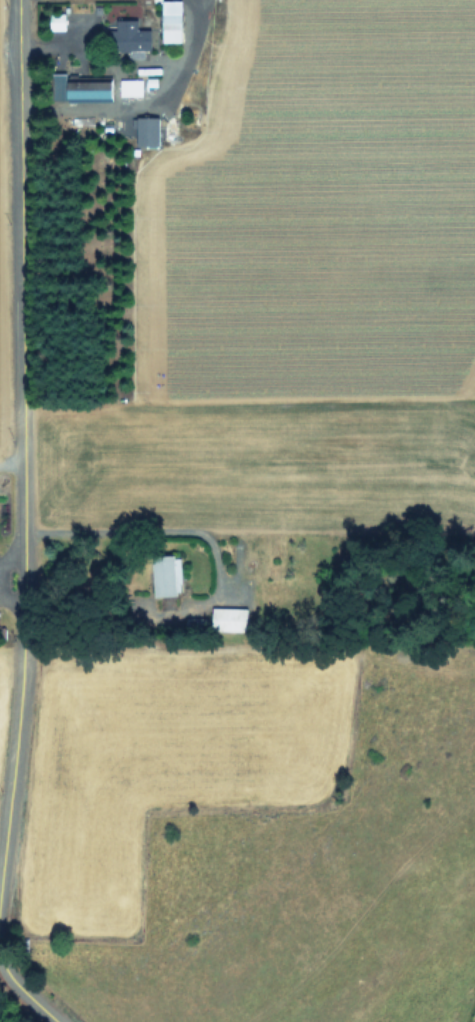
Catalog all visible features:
building: (169, 20)
building: (129, 34)
road: (54, 39)
building: (77, 85)
building: (129, 86)
road: (145, 106)
building: (144, 130)
road: (20, 432)
crop: (259, 512)
road: (166, 532)
building: (161, 575)
building: (226, 618)
crop: (0, 649)
road: (25, 994)

